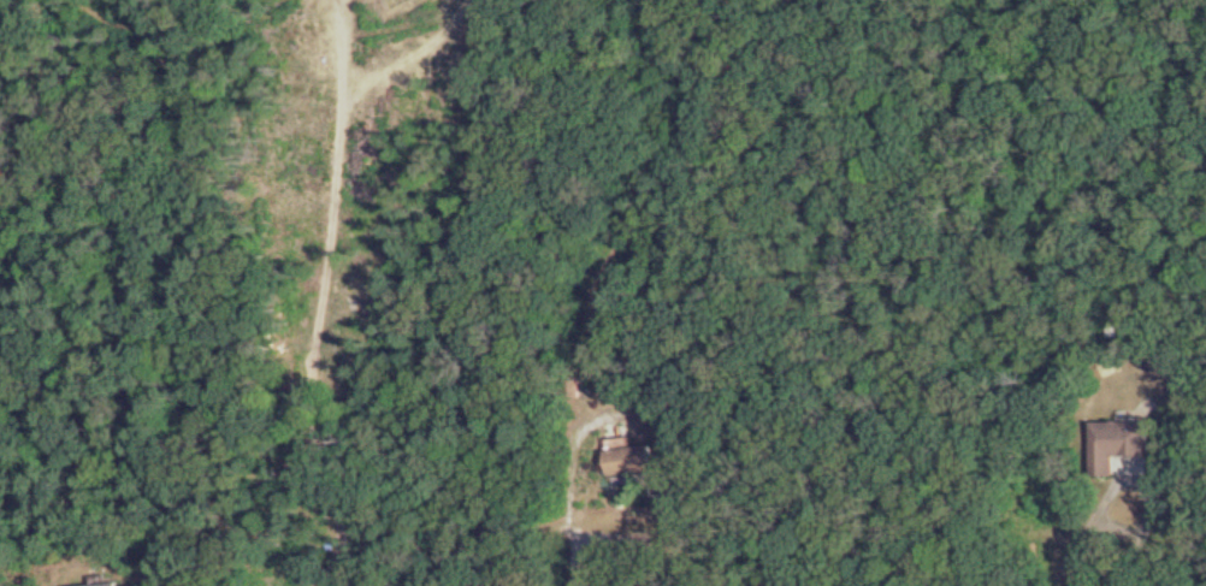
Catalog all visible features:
building: (1121, 445)
building: (633, 461)
road: (1133, 480)
road: (574, 489)
building: (140, 585)

